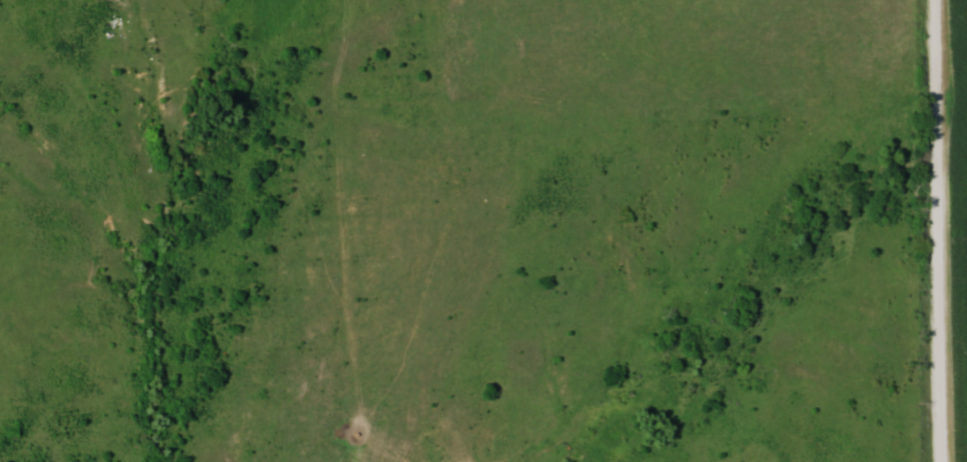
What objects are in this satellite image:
road: (940, 231)

